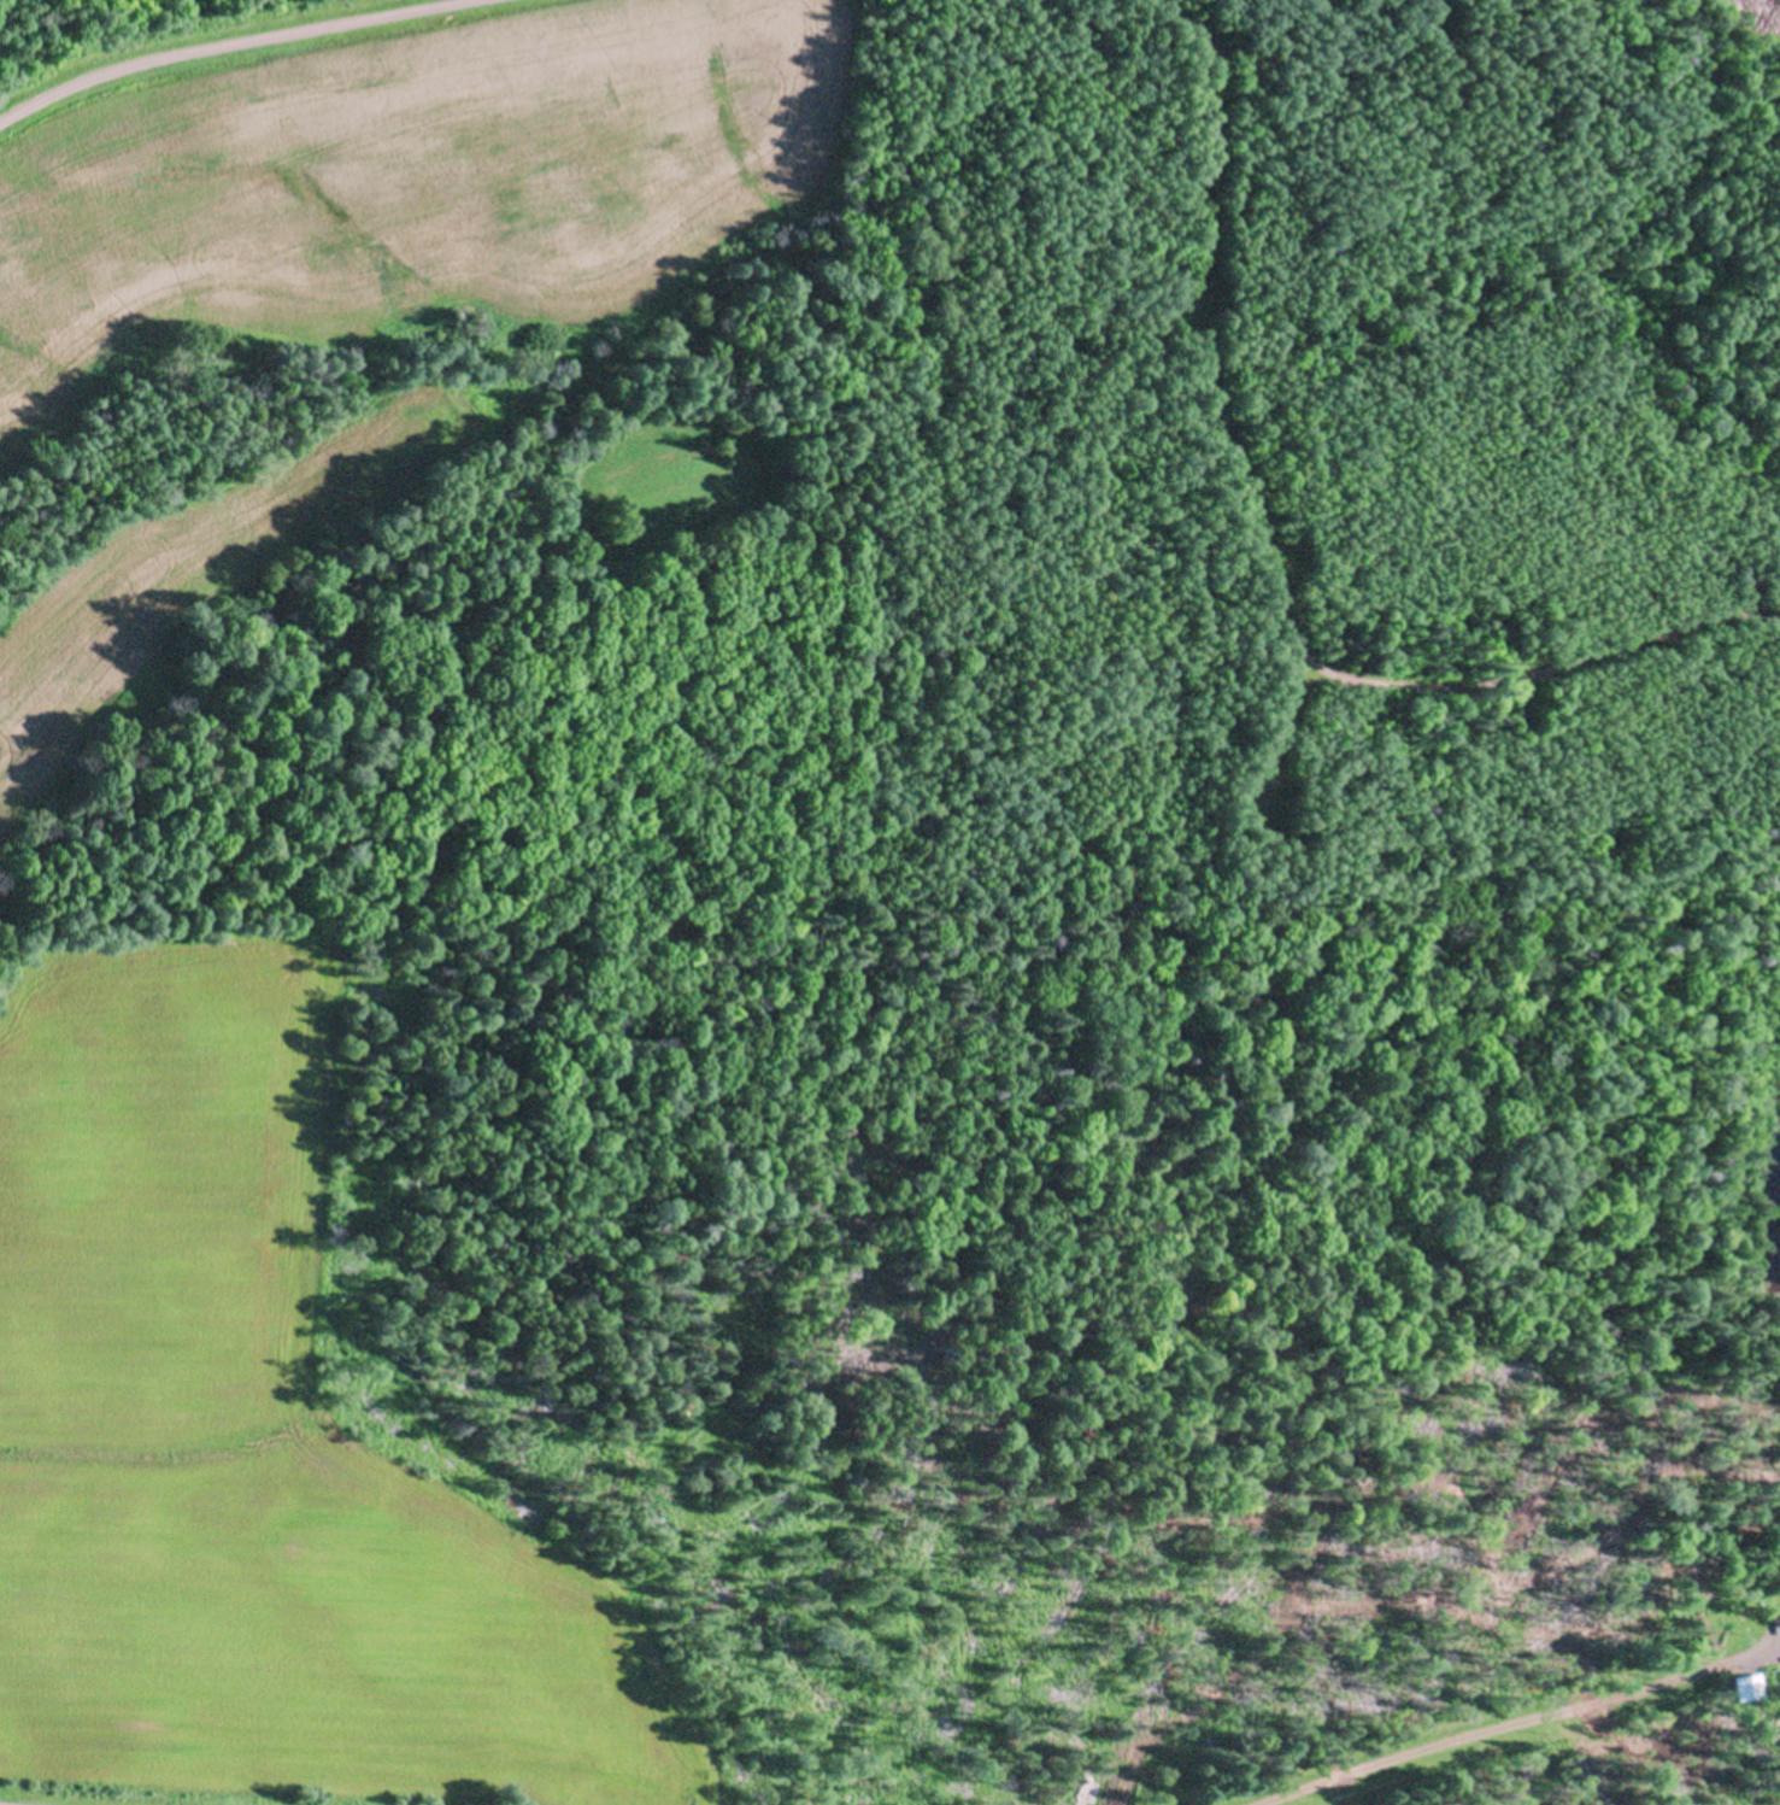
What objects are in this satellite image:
road: (229, 42)
building: (1778, 1594)
building: (1749, 1686)
building: (1779, 1686)
road: (1522, 1724)

